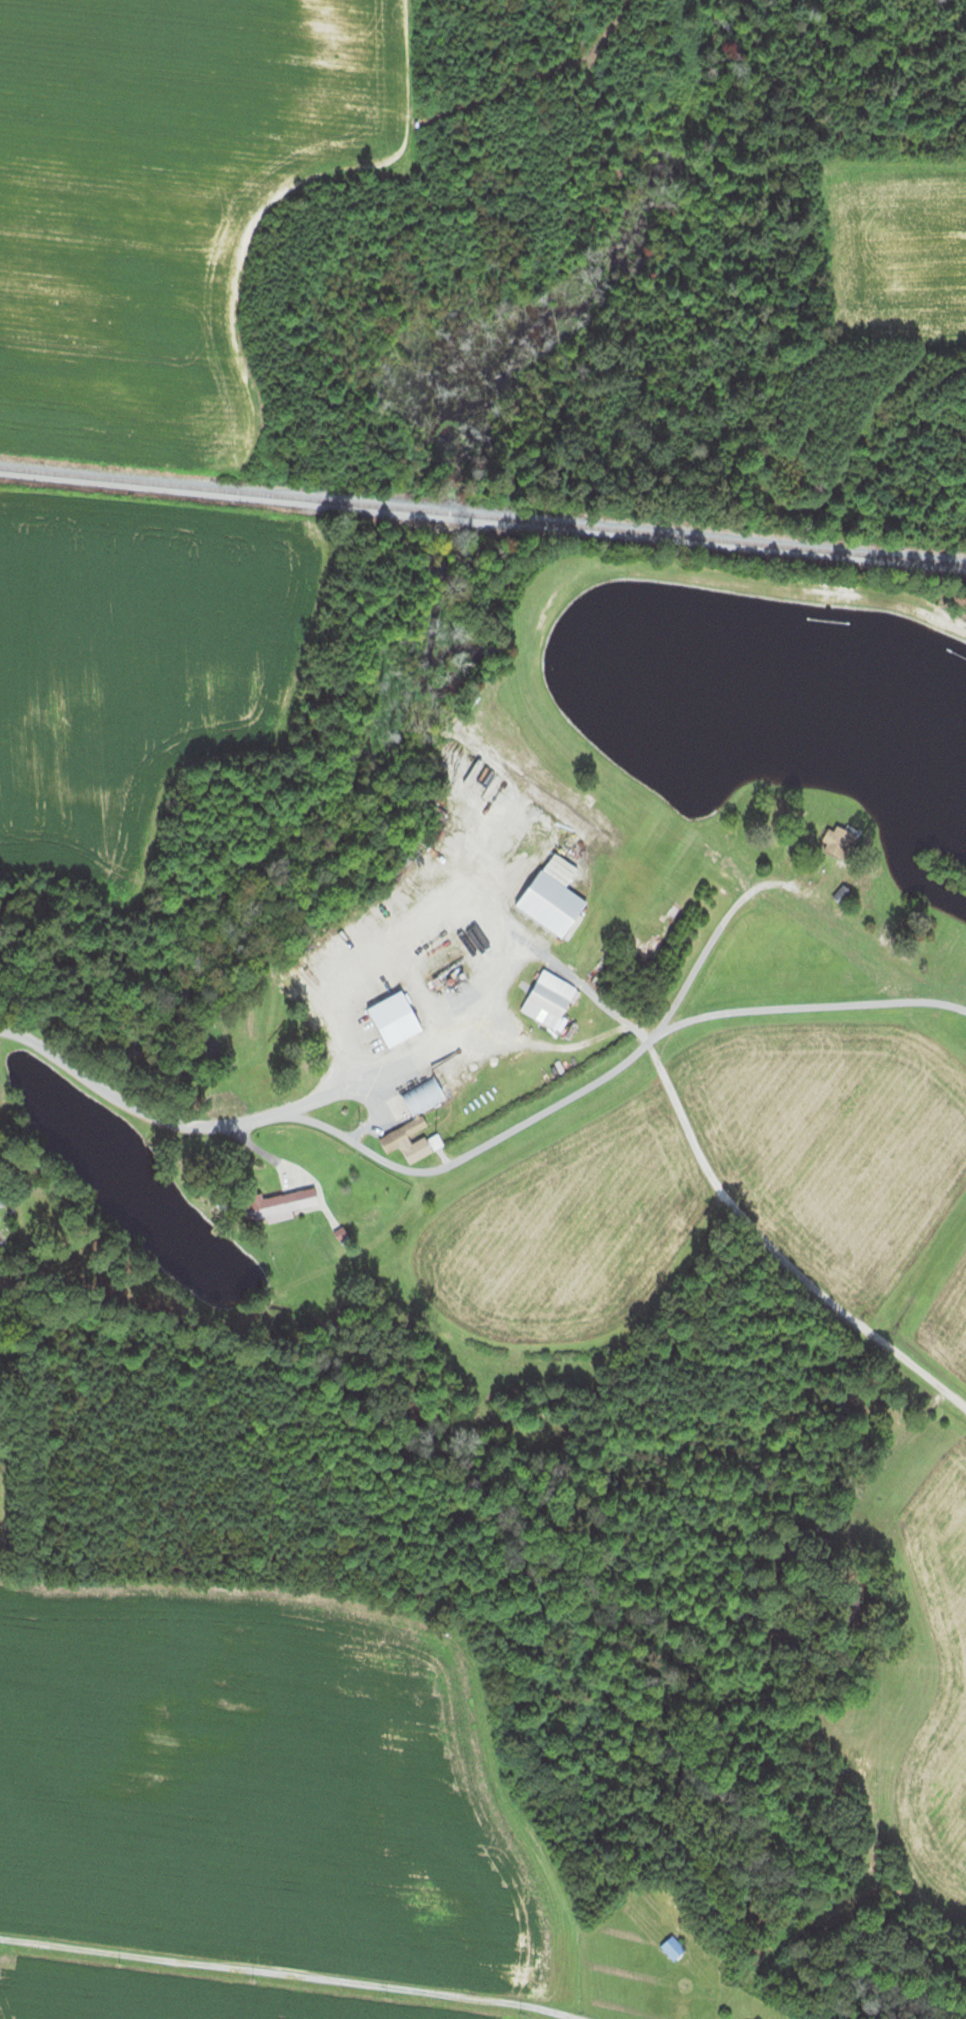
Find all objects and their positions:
railway: (482, 516)
building: (840, 840)
road: (456, 894)
building: (554, 903)
road: (712, 937)
road: (558, 965)
building: (551, 999)
road: (802, 1007)
building: (395, 1023)
road: (415, 1059)
building: (425, 1094)
road: (331, 1129)
building: (409, 1141)
building: (282, 1204)
road: (774, 1252)
road: (879, 1457)
road: (293, 1974)

